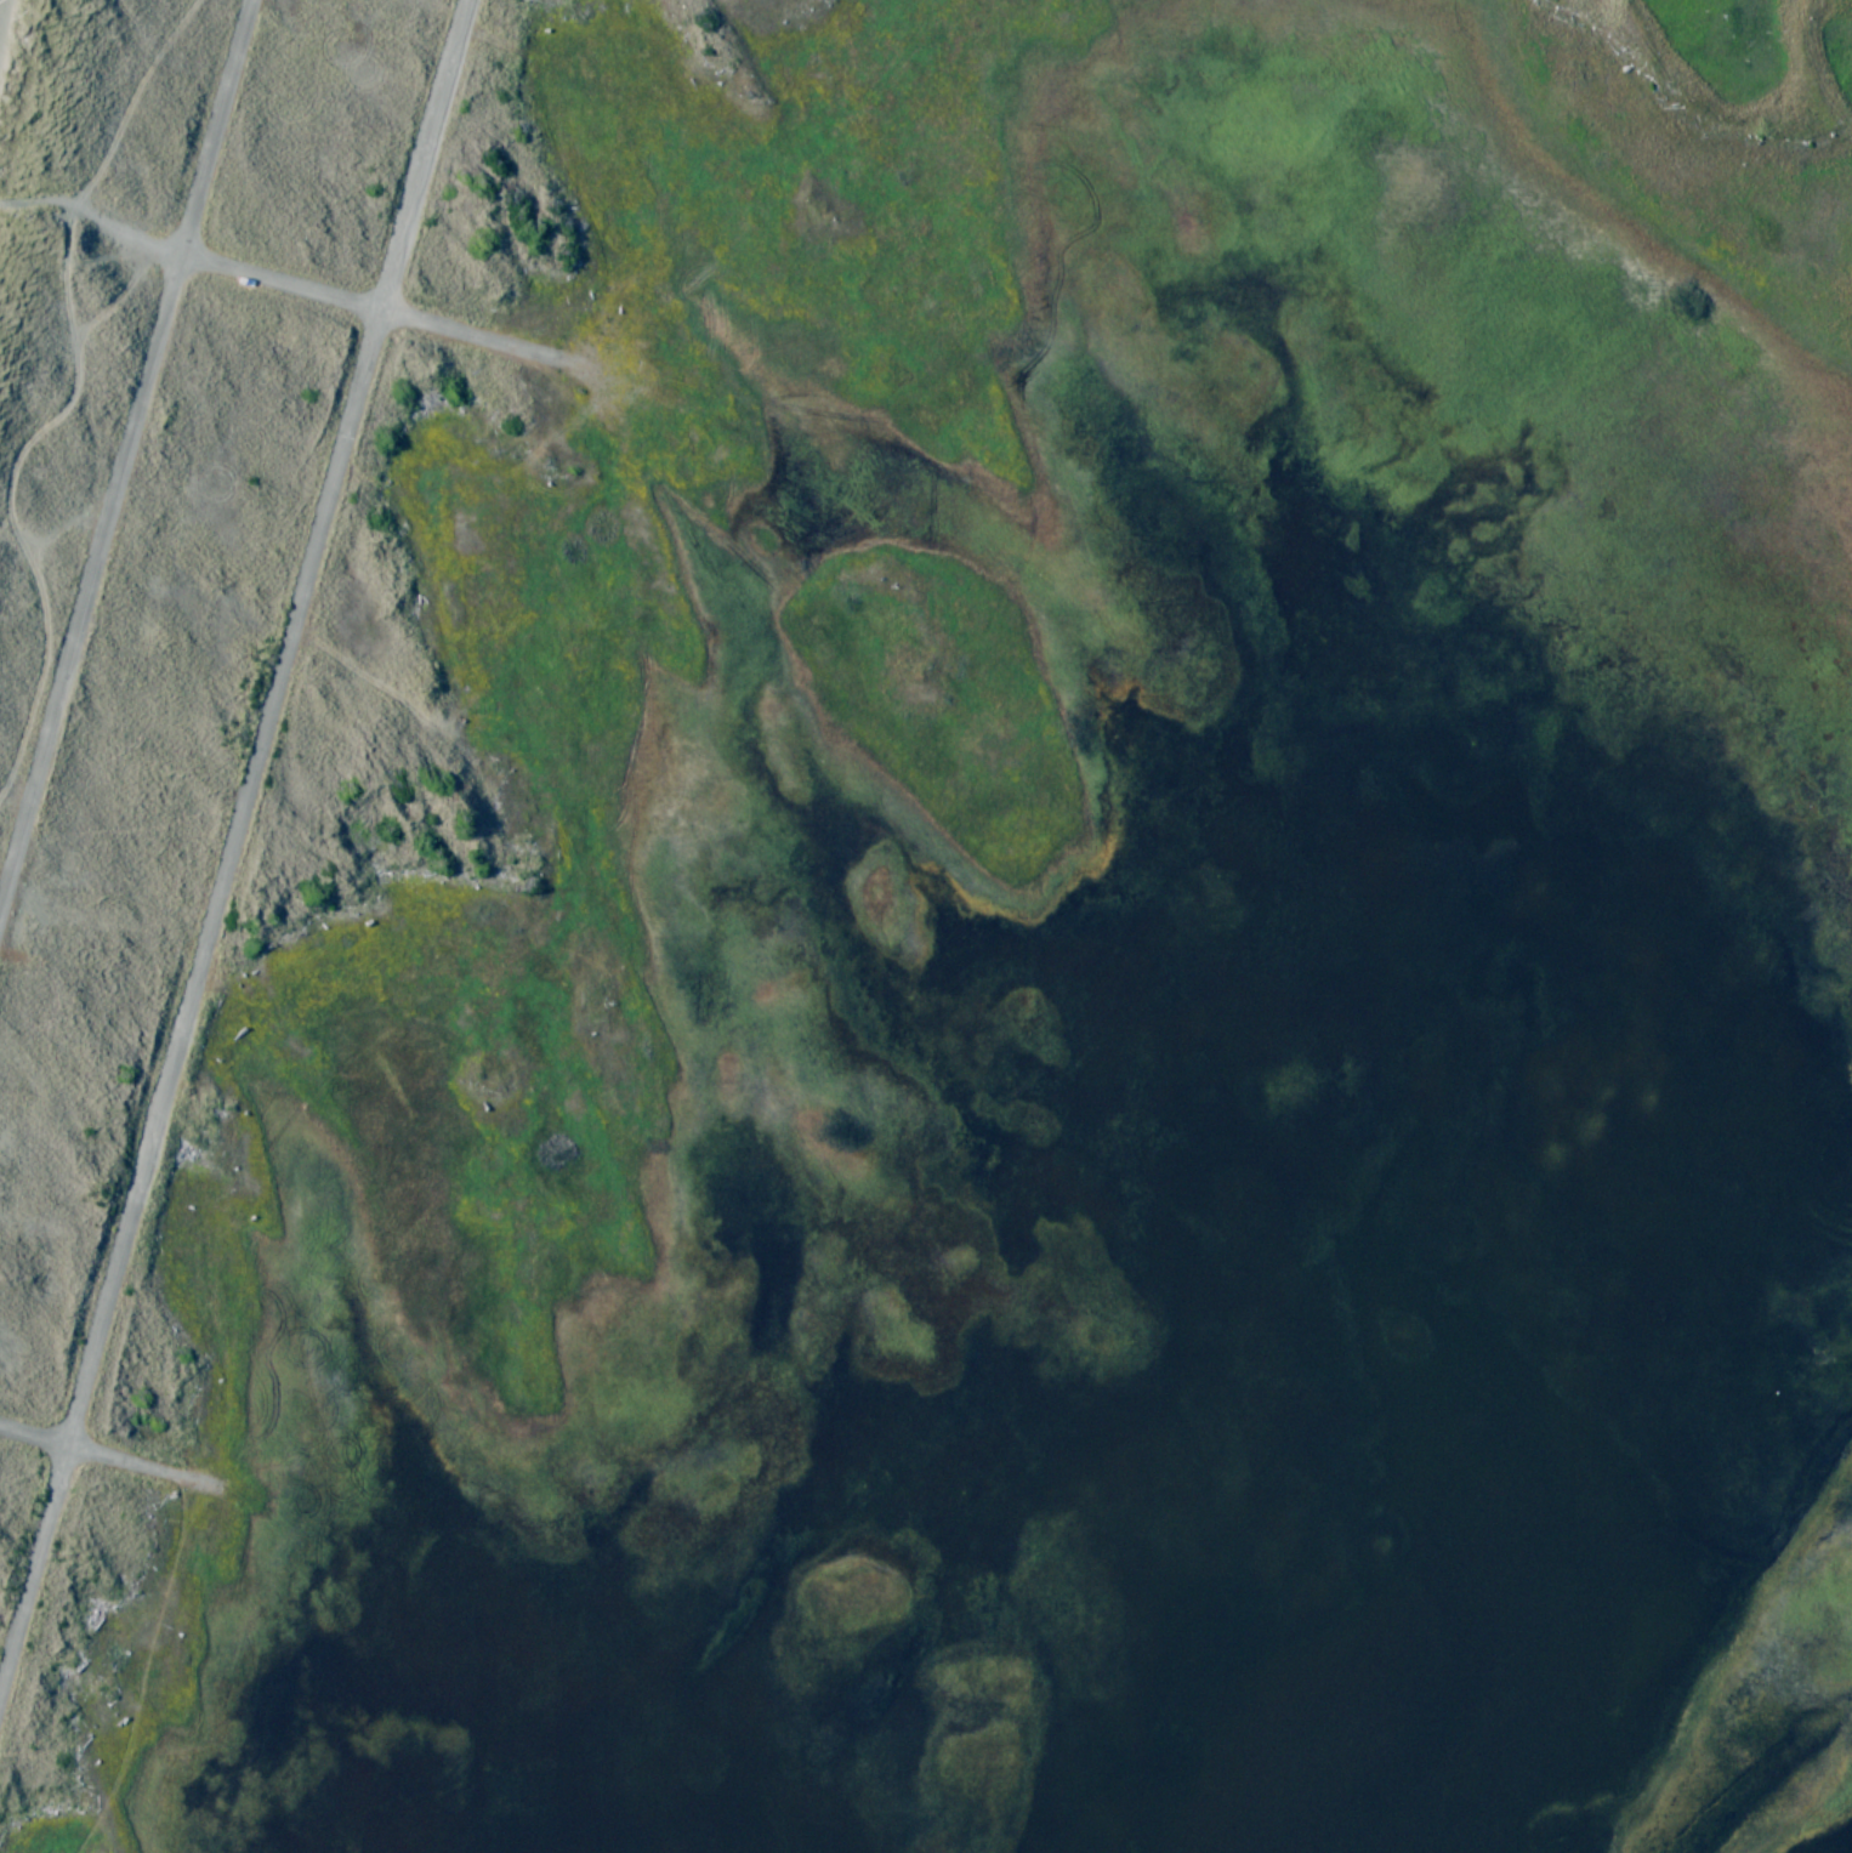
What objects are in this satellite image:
road: (288, 286)
road: (72, 397)
road: (126, 459)
road: (234, 849)
road: (109, 1457)

